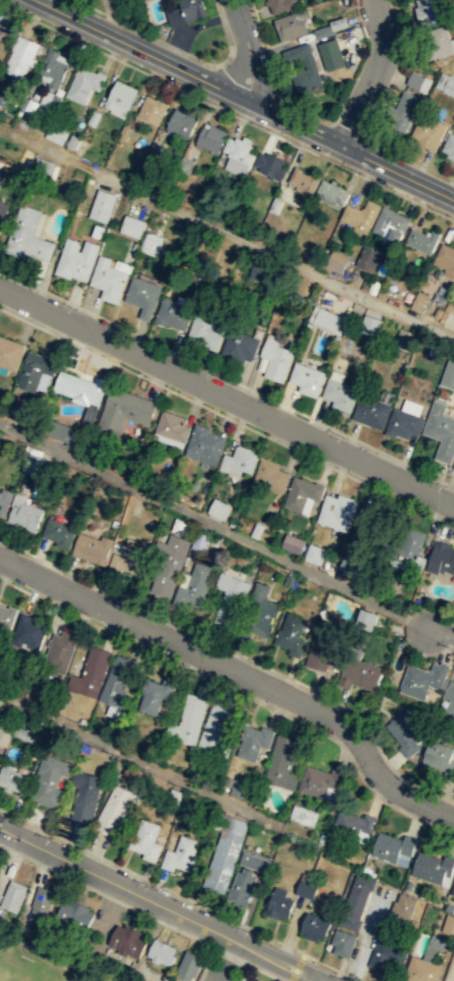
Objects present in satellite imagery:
building: (281, 5)
building: (426, 11)
building: (186, 12)
building: (4, 16)
road: (111, 19)
building: (292, 24)
building: (324, 31)
building: (440, 41)
street lamp: (89, 43)
road: (247, 49)
road: (267, 49)
road: (178, 50)
building: (332, 55)
building: (20, 56)
street lamp: (268, 57)
building: (52, 68)
road: (395, 69)
building: (308, 71)
road: (187, 72)
road: (374, 75)
building: (418, 82)
building: (84, 83)
building: (445, 83)
street lamp: (176, 84)
building: (120, 96)
building: (150, 109)
road: (226, 110)
road: (307, 110)
building: (404, 110)
building: (93, 117)
building: (181, 122)
street lamp: (269, 128)
road: (348, 129)
building: (124, 132)
building: (428, 132)
building: (57, 135)
building: (211, 137)
building: (73, 141)
building: (449, 146)
building: (155, 150)
building: (238, 154)
road: (409, 158)
building: (270, 165)
building: (0, 171)
street lamp: (361, 172)
road: (396, 172)
building: (304, 181)
building: (331, 192)
building: (102, 205)
building: (275, 205)
building: (3, 211)
street lamp: (449, 214)
building: (361, 215)
building: (391, 225)
building: (132, 226)
building: (99, 233)
building: (28, 235)
road: (232, 236)
building: (422, 239)
building: (151, 243)
building: (76, 258)
building: (368, 258)
building: (445, 258)
building: (337, 261)
building: (262, 272)
building: (108, 279)
building: (142, 295)
building: (437, 312)
building: (173, 313)
building: (327, 320)
building: (448, 320)
building: (371, 326)
building: (203, 330)
building: (404, 339)
building: (240, 345)
building: (10, 352)
building: (276, 358)
building: (34, 369)
building: (449, 373)
road: (226, 377)
building: (306, 378)
building: (79, 388)
building: (340, 393)
road: (227, 394)
building: (15, 410)
building: (123, 411)
building: (371, 411)
building: (404, 423)
building: (171, 428)
building: (441, 431)
building: (68, 434)
building: (204, 444)
building: (239, 460)
building: (35, 463)
building: (271, 475)
building: (302, 493)
building: (5, 500)
building: (218, 508)
building: (338, 513)
building: (25, 515)
road: (213, 524)
building: (364, 524)
building: (183, 527)
building: (257, 530)
building: (58, 532)
building: (200, 540)
building: (215, 540)
building: (292, 543)
building: (408, 546)
building: (92, 548)
building: (314, 553)
building: (127, 557)
building: (441, 557)
building: (170, 564)
building: (354, 569)
building: (289, 578)
building: (194, 585)
building: (230, 598)
building: (257, 612)
building: (367, 618)
building: (5, 620)
road: (440, 628)
building: (29, 632)
building: (294, 642)
building: (324, 642)
building: (61, 649)
building: (90, 672)
road: (240, 672)
building: (360, 673)
building: (420, 678)
building: (117, 682)
road: (239, 692)
building: (155, 694)
building: (448, 696)
building: (188, 720)
building: (216, 729)
building: (28, 730)
building: (5, 731)
building: (405, 732)
building: (254, 741)
building: (440, 757)
road: (141, 759)
building: (281, 762)
street lamp: (351, 766)
building: (132, 776)
building: (11, 777)
building: (49, 779)
building: (320, 780)
building: (238, 787)
building: (249, 792)
building: (172, 796)
building: (83, 797)
building: (114, 809)
building: (303, 814)
building: (328, 820)
building: (353, 824)
street lamp: (53, 838)
building: (322, 838)
building: (145, 839)
building: (392, 846)
building: (179, 854)
building: (224, 854)
building: (253, 861)
building: (432, 867)
road: (50, 868)
street lamp: (152, 884)
building: (240, 887)
building: (305, 888)
building: (452, 890)
road: (180, 894)
building: (12, 897)
road: (114, 899)
building: (356, 901)
building: (40, 903)
building: (279, 903)
road: (160, 904)
building: (403, 905)
building: (1, 910)
building: (75, 913)
building: (448, 924)
building: (315, 925)
road: (170, 926)
street lamp: (252, 933)
building: (127, 941)
building: (342, 942)
building: (160, 952)
road: (227, 954)
building: (387, 954)
park: (36, 964)
building: (188, 965)
road: (296, 967)
building: (421, 970)
road: (263, 971)
parking lot: (224, 973)
street lamp: (349, 979)

